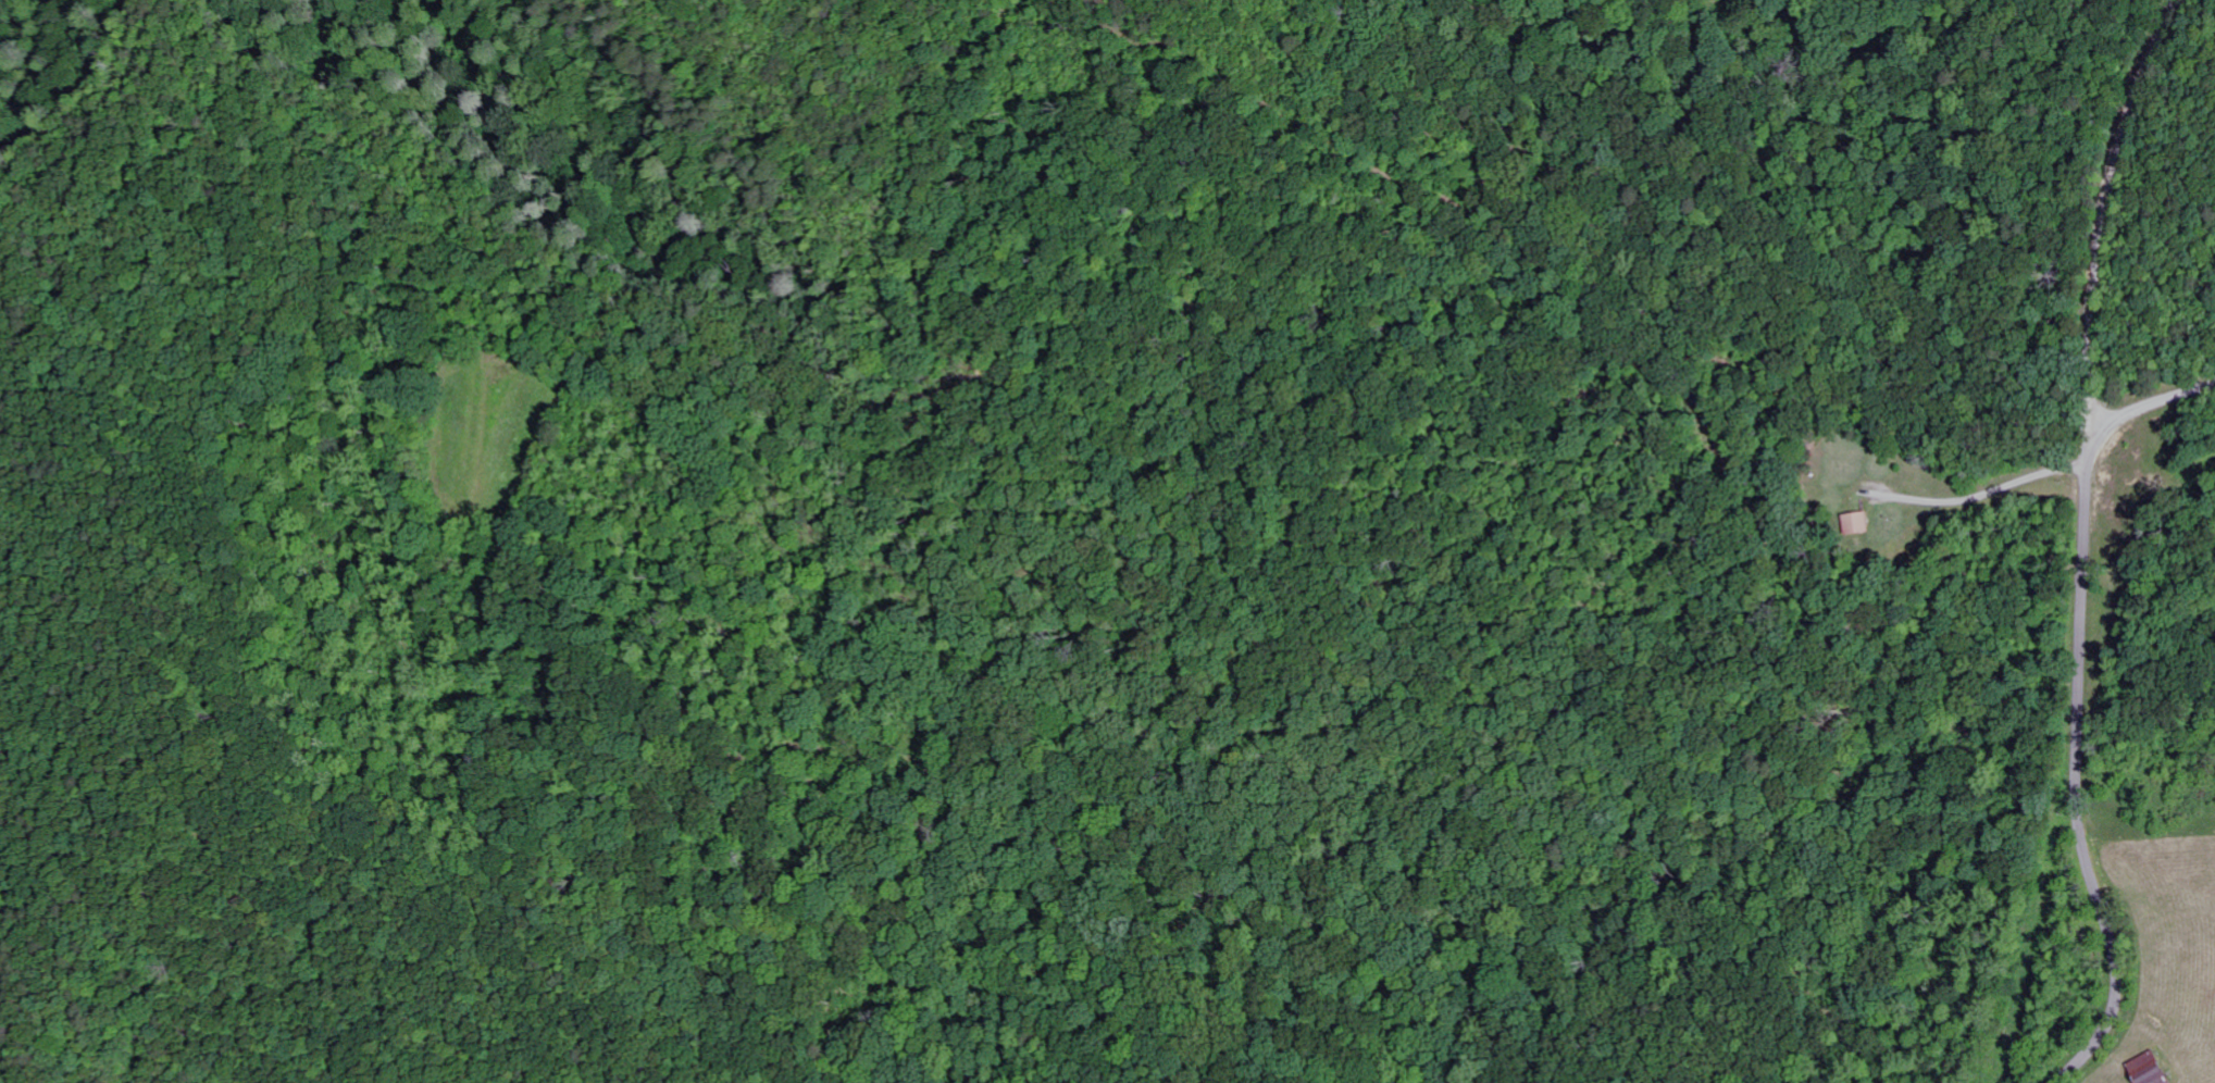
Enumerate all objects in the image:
park: (22, 18)
park: (650, 97)
road: (2152, 404)
road: (1988, 494)
building: (1859, 524)
road: (2086, 545)
building: (2152, 1070)

